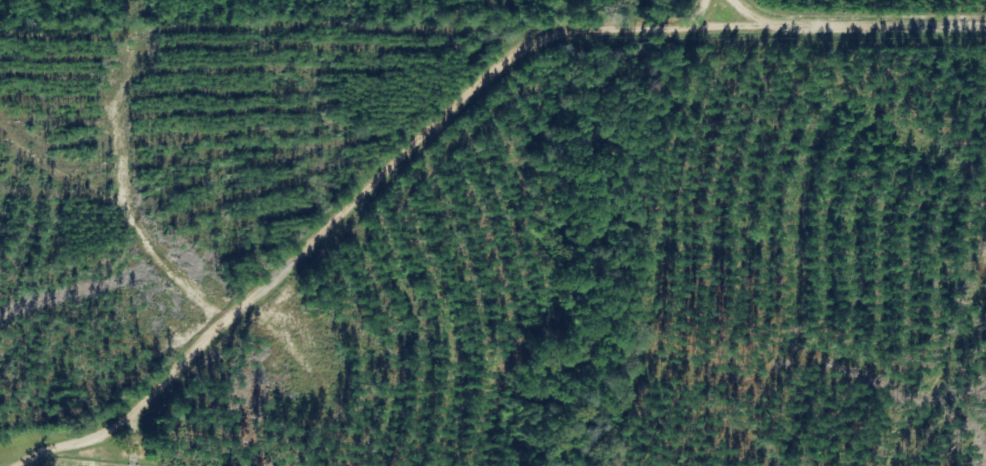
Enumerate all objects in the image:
road: (763, 15)
road: (891, 25)
road: (377, 180)
park: (85, 462)

